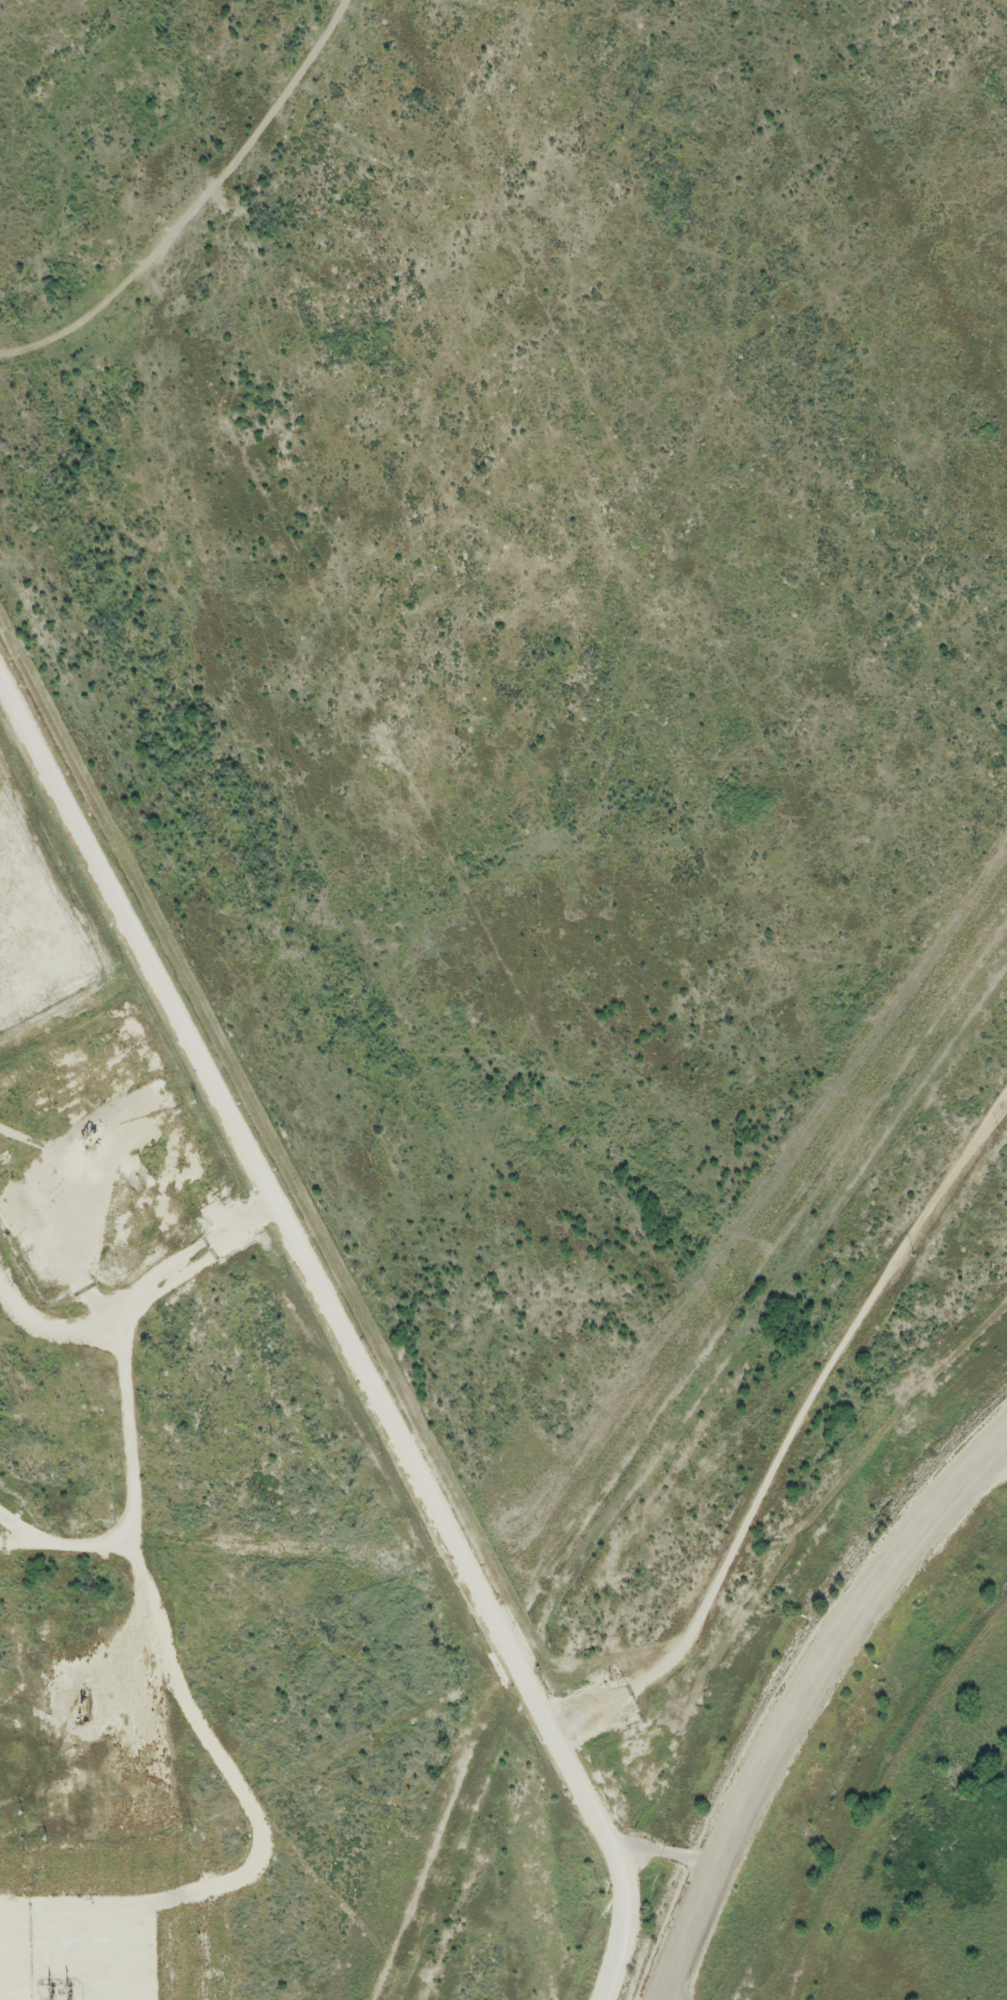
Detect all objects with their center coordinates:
road: (341, 1335)
road: (124, 1393)
road: (794, 1434)
road: (12, 1546)
road: (128, 1661)
road: (808, 1697)
quarry: (847, 1756)
road: (187, 1825)
road: (662, 1851)

